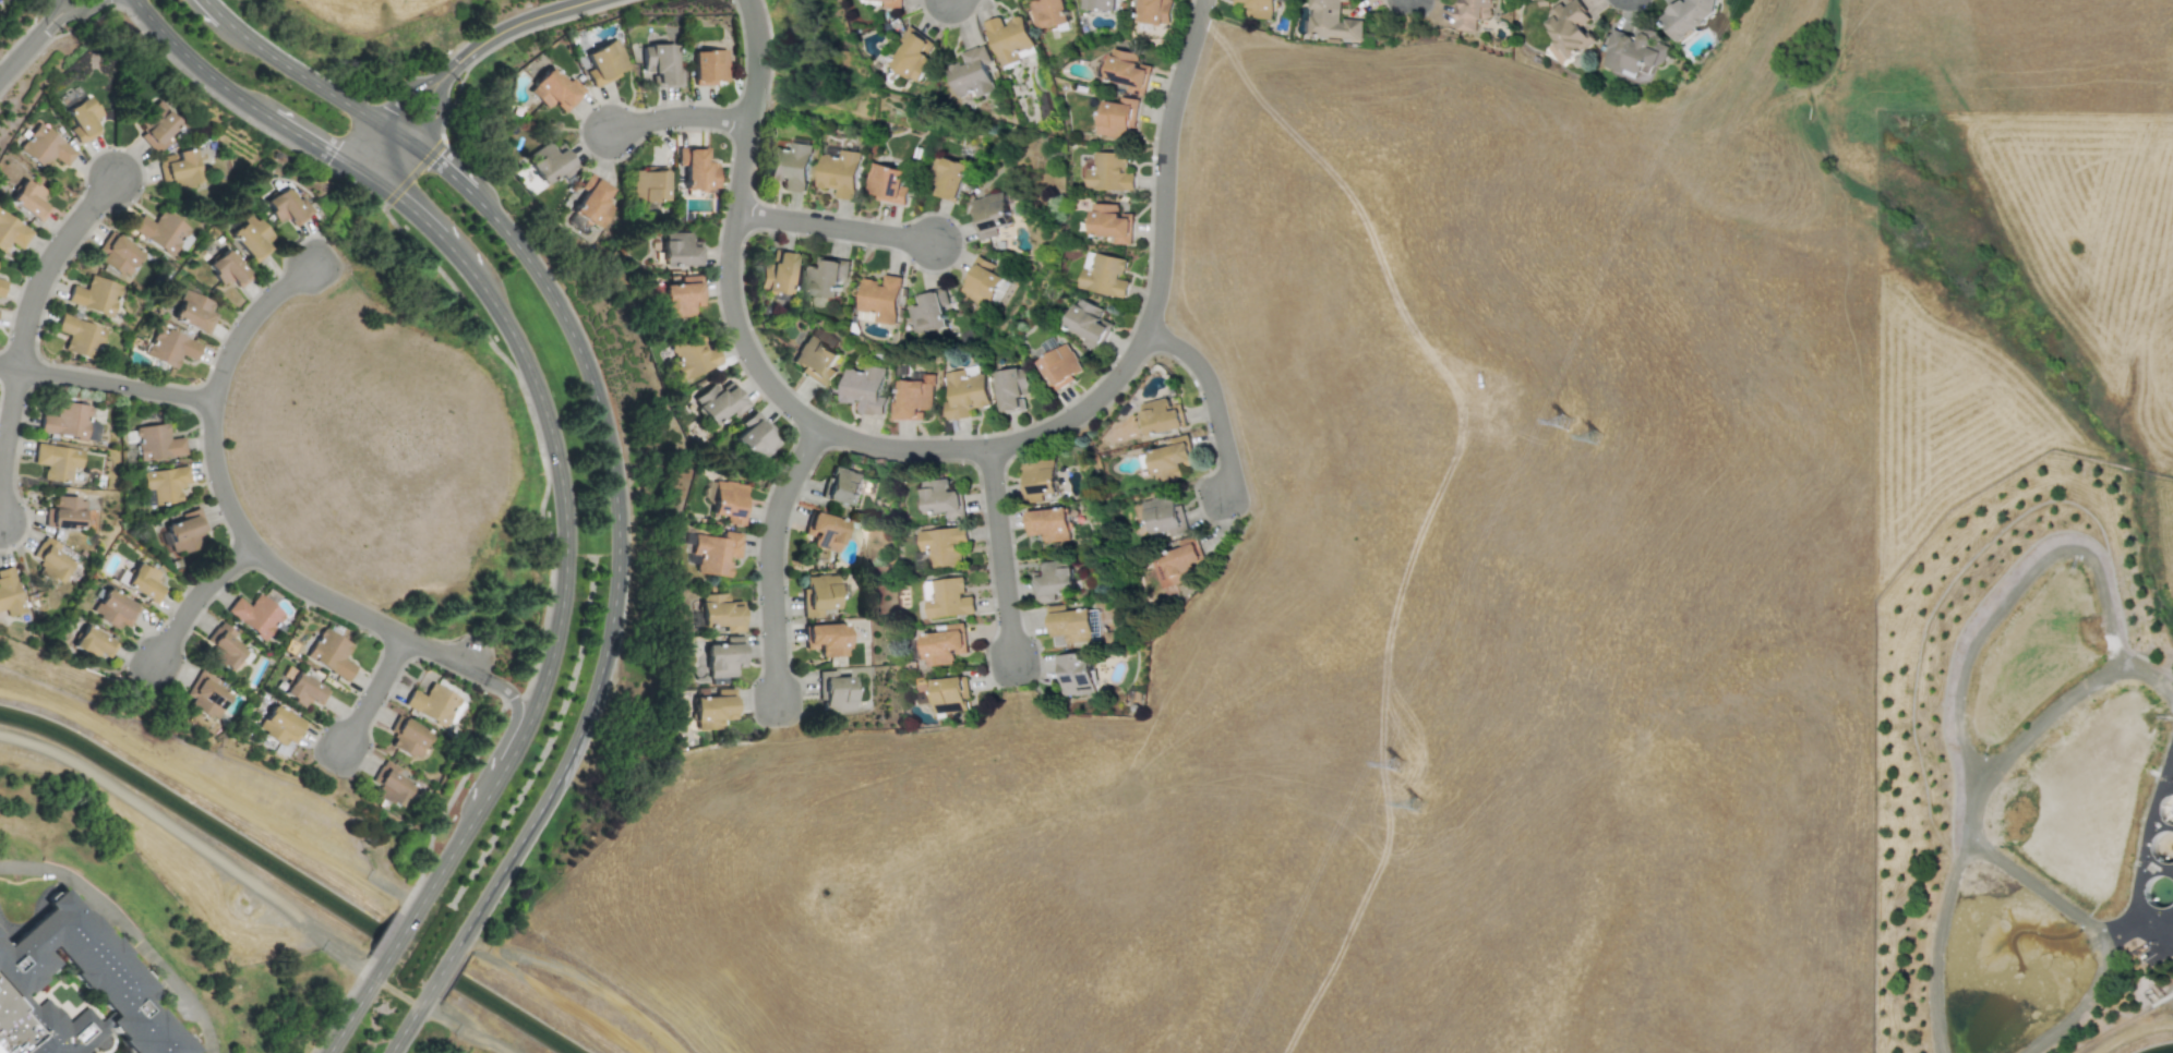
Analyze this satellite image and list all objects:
road: (59, 0)
building: (890, 3)
building: (1098, 4)
road: (64, 5)
building: (1258, 8)
road: (73, 11)
building: (1154, 11)
road: (50, 12)
road: (211, 12)
building: (1048, 12)
building: (1470, 13)
building: (1685, 16)
building: (1331, 21)
road: (523, 22)
road: (40, 29)
building: (1566, 29)
road: (44, 32)
building: (1633, 51)
building: (911, 55)
road: (19, 56)
road: (194, 61)
building: (605, 62)
building: (660, 64)
building: (709, 66)
building: (1128, 70)
building: (970, 72)
road: (315, 83)
road: (432, 88)
building: (554, 89)
road: (397, 99)
road: (442, 102)
road: (431, 109)
road: (679, 116)
building: (82, 119)
building: (156, 124)
road: (316, 140)
building: (45, 146)
road: (389, 155)
building: (549, 162)
road: (1163, 164)
road: (447, 165)
building: (789, 165)
building: (179, 168)
building: (696, 168)
building: (1108, 171)
building: (839, 172)
building: (947, 178)
building: (886, 183)
building: (649, 185)
building: (28, 198)
building: (593, 201)
building: (289, 206)
building: (988, 215)
road: (432, 220)
building: (1108, 222)
road: (833, 227)
building: (12, 231)
building: (253, 238)
building: (677, 250)
building: (118, 253)
road: (50, 263)
building: (228, 268)
building: (776, 273)
building: (1103, 274)
building: (825, 277)
building: (980, 281)
building: (1, 285)
building: (95, 294)
building: (681, 296)
building: (879, 298)
building: (194, 311)
building: (928, 311)
road: (251, 320)
building: (1088, 323)
building: (80, 335)
building: (170, 347)
building: (693, 355)
building: (814, 360)
building: (1059, 366)
road: (107, 383)
building: (862, 388)
building: (1012, 388)
building: (963, 394)
road: (1211, 397)
road: (783, 398)
building: (912, 398)
building: (718, 401)
building: (1161, 415)
power tower: (1570, 419)
power tower: (1596, 433)
building: (755, 437)
building: (156, 441)
road: (5, 444)
building: (1172, 459)
building: (57, 461)
building: (1037, 479)
building: (164, 483)
building: (841, 486)
road: (564, 499)
building: (941, 499)
building: (728, 501)
building: (64, 512)
building: (1164, 515)
building: (1047, 523)
building: (824, 530)
building: (187, 531)
building: (943, 544)
building: (715, 553)
road: (998, 554)
road: (770, 557)
building: (50, 559)
building: (1176, 565)
road: (620, 571)
road: (298, 581)
building: (1051, 581)
building: (143, 582)
road: (2008, 588)
building: (9, 592)
building: (818, 594)
road: (197, 596)
building: (947, 597)
building: (113, 608)
building: (719, 613)
building: (255, 615)
building: (1068, 622)
building: (826, 638)
building: (92, 642)
building: (944, 644)
building: (225, 649)
building: (329, 653)
building: (722, 658)
building: (1072, 673)
building: (304, 690)
building: (836, 691)
road: (375, 692)
building: (922, 692)
building: (949, 693)
building: (206, 697)
road: (513, 697)
building: (433, 703)
building: (712, 709)
building: (279, 725)
building: (408, 737)
power tower: (1405, 757)
road: (500, 768)
building: (391, 783)
road: (211, 794)
power tower: (1421, 799)
road: (1982, 803)
road: (2141, 842)
road: (194, 843)
road: (445, 864)
road: (48, 869)
road: (2043, 892)
road: (106, 906)
road: (398, 941)
road: (144, 947)
road: (444, 968)
road: (2100, 979)
building: (76, 989)
road: (554, 993)
road: (187, 997)
road: (356, 1007)
road: (441, 1018)
road: (409, 1022)
road: (2134, 1036)
road: (208, 1037)

